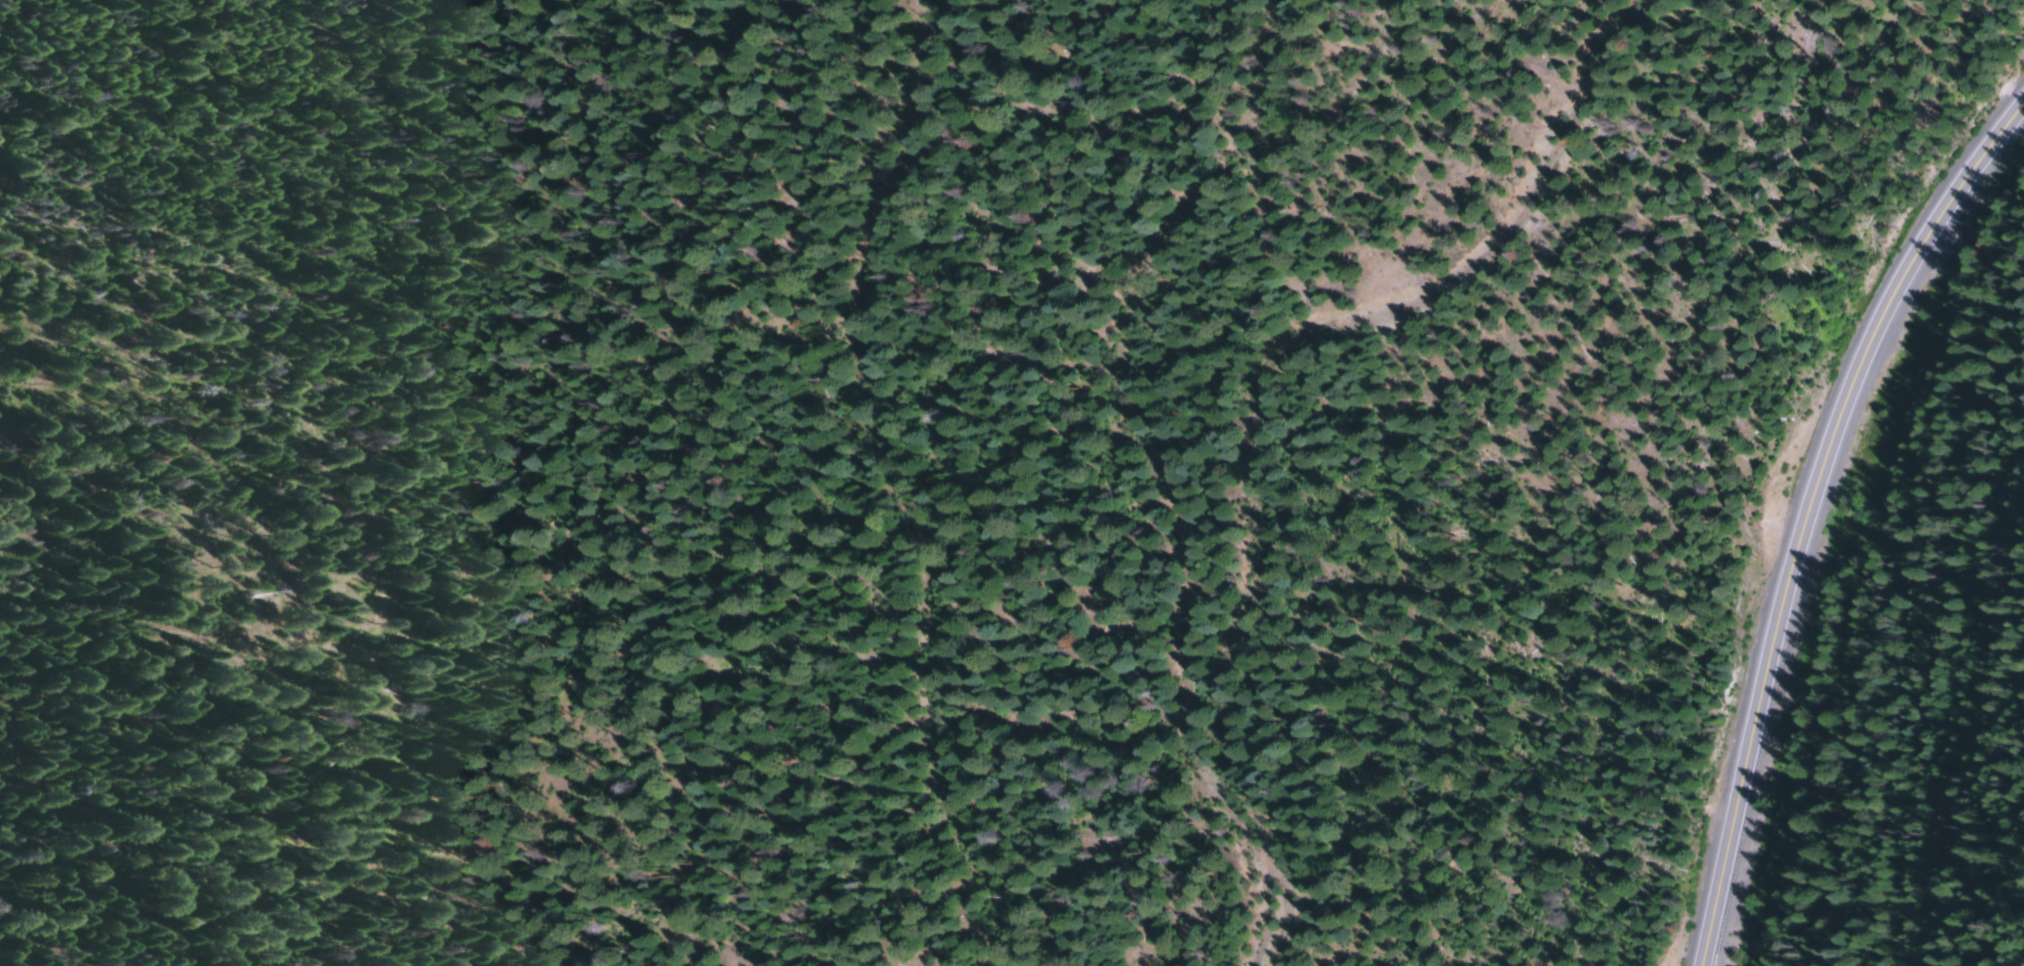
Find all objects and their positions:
road: (1237, 429)
road: (1830, 519)
road: (1952, 788)

